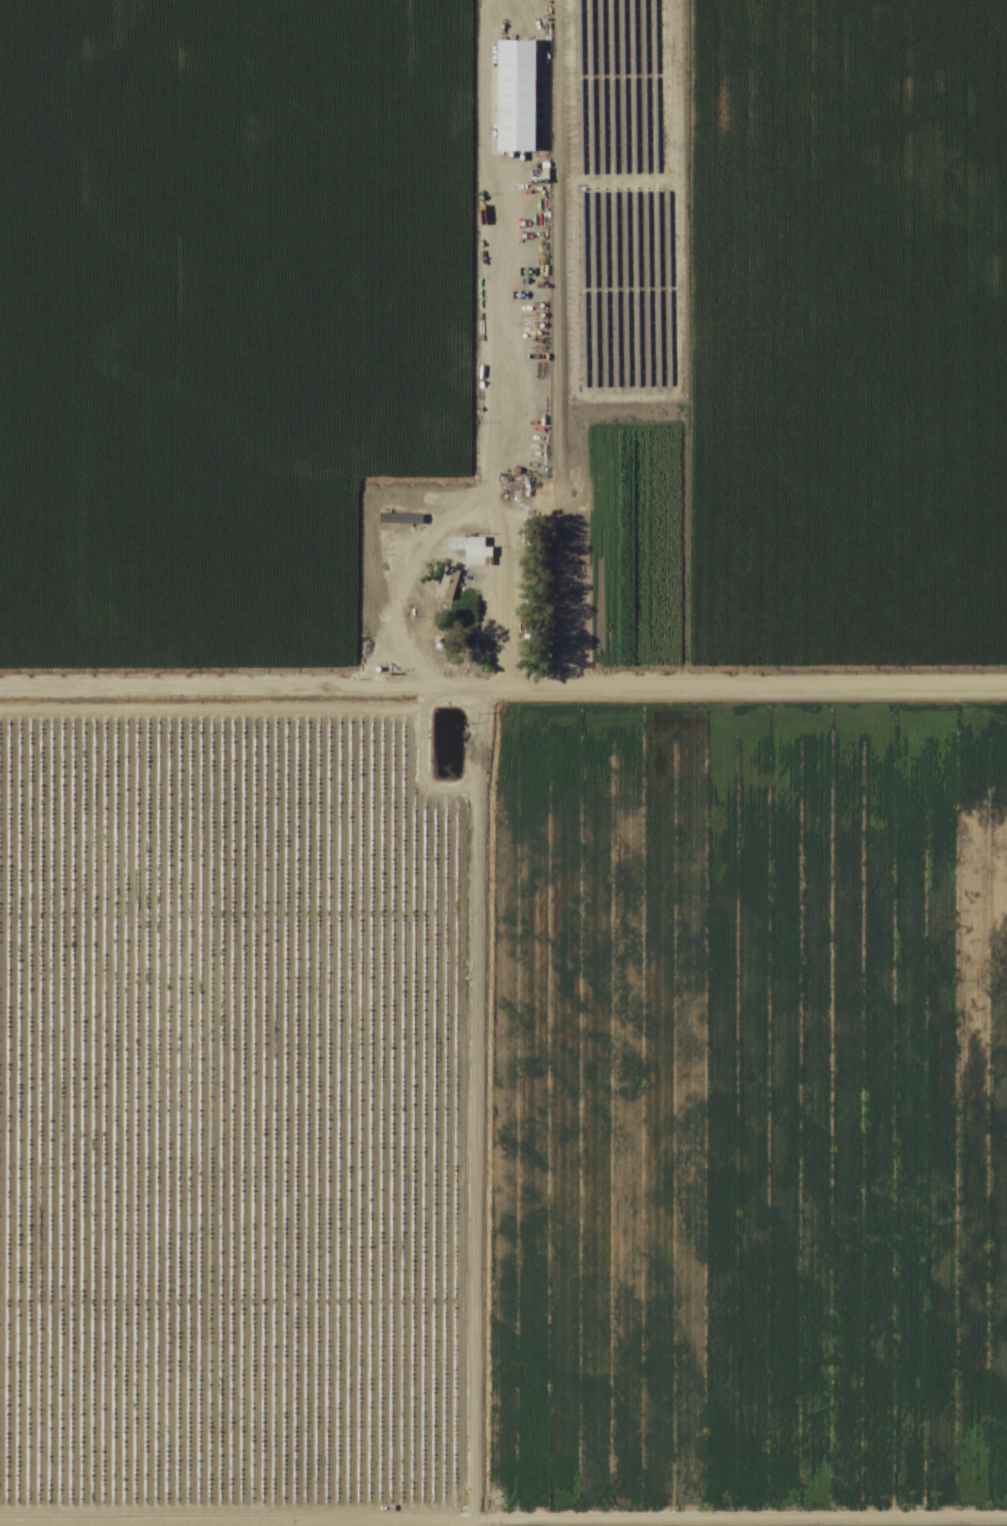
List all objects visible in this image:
building: (509, 91)
building: (468, 547)
road: (503, 685)
road: (478, 762)
road: (503, 1518)

